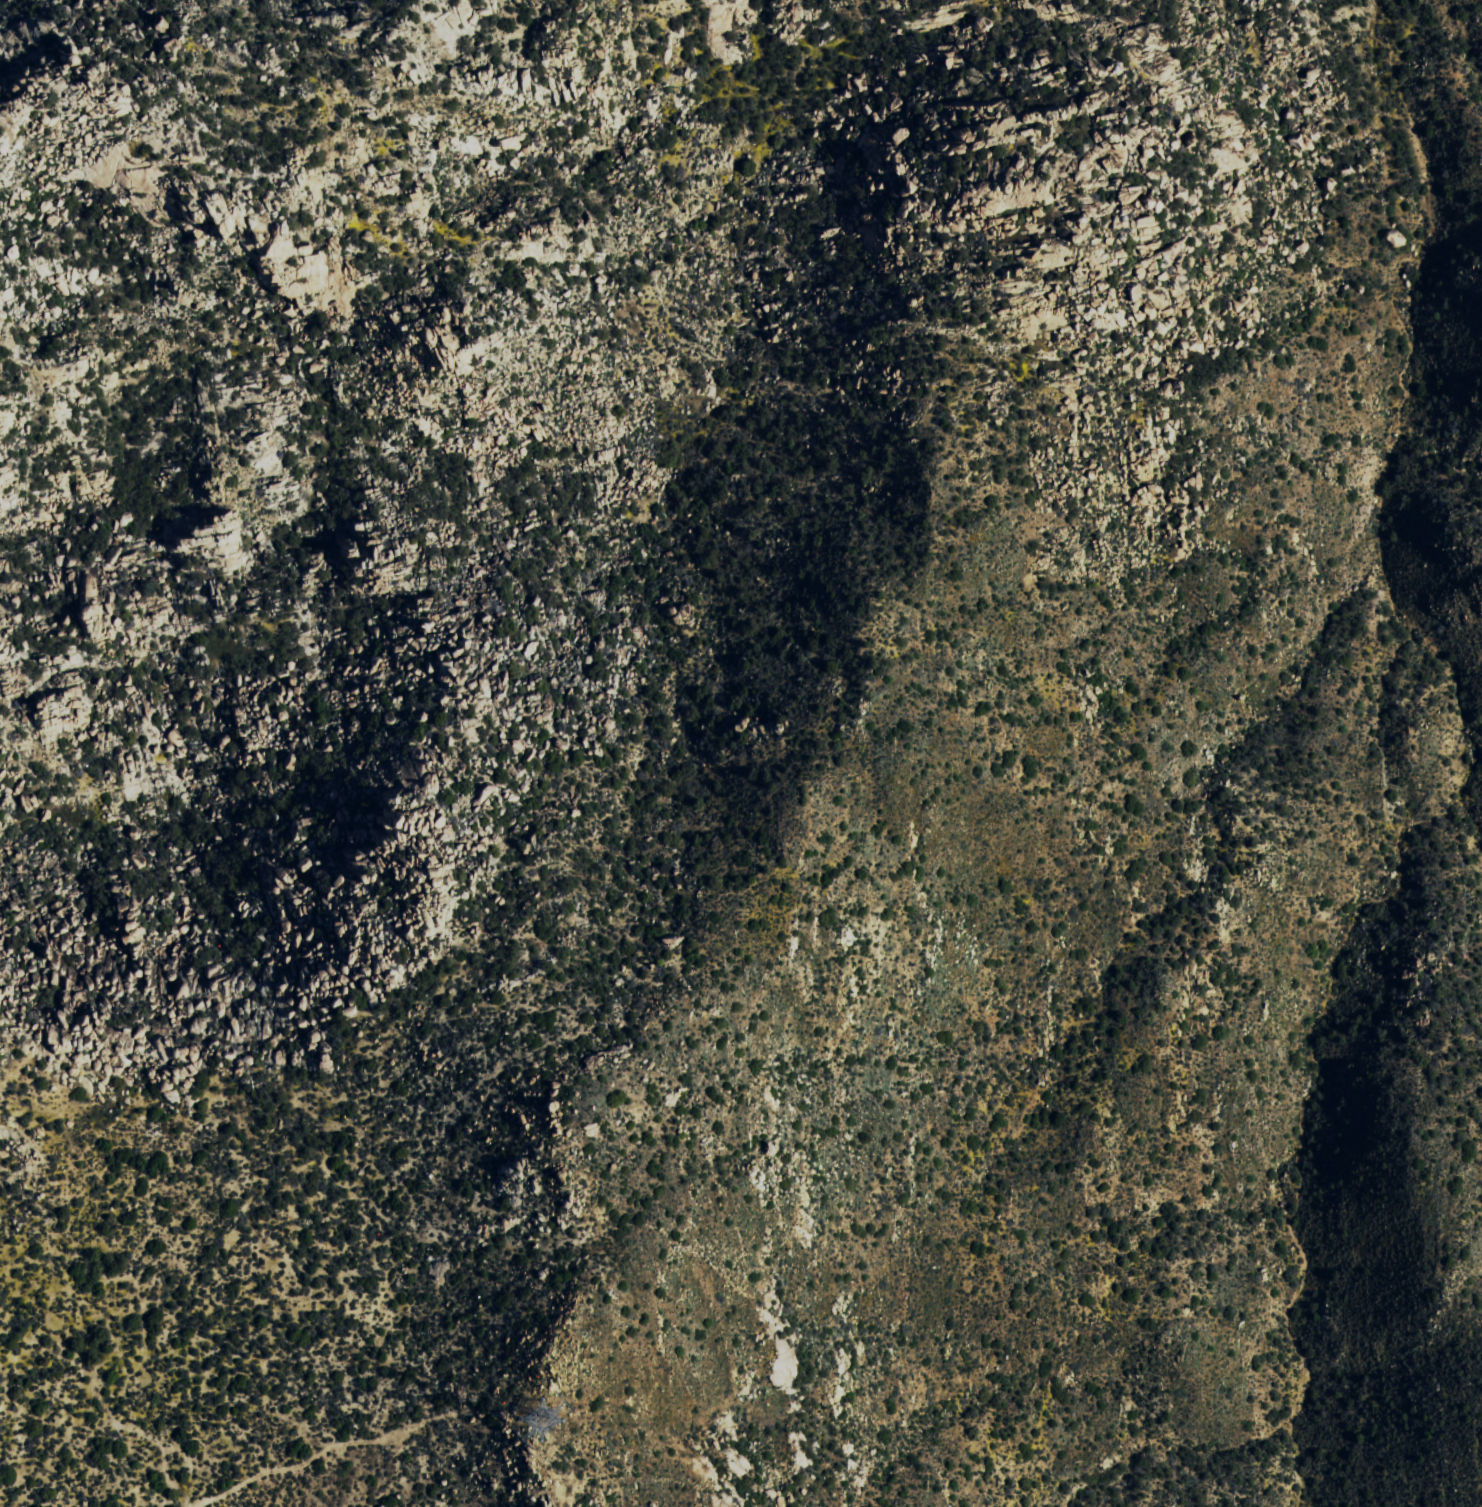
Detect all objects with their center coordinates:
power tower: (551, 1424)

